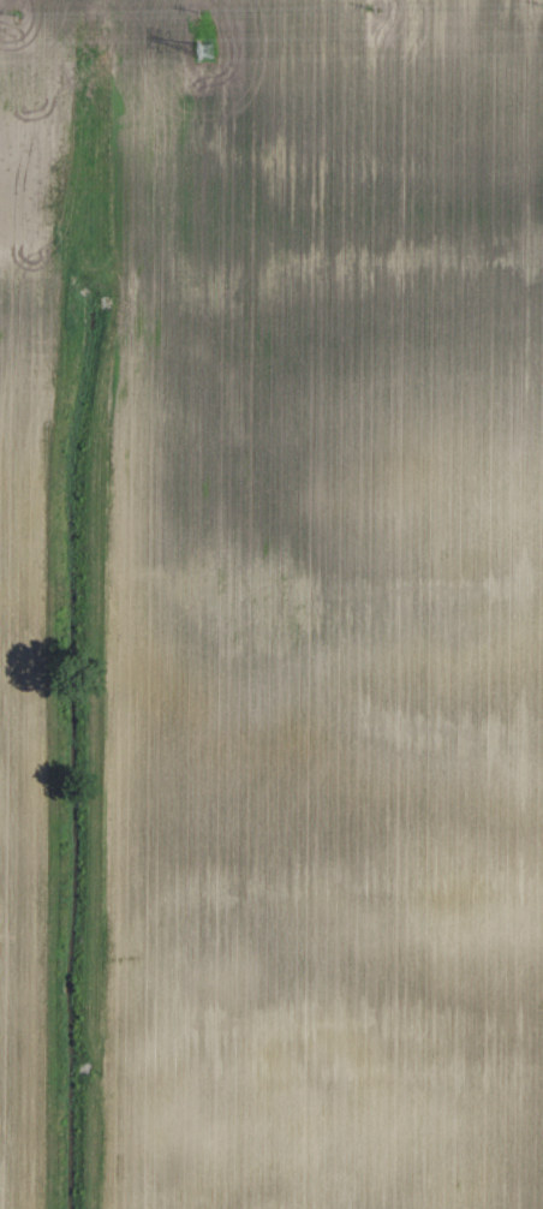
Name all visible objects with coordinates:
power tower: (208, 50)

